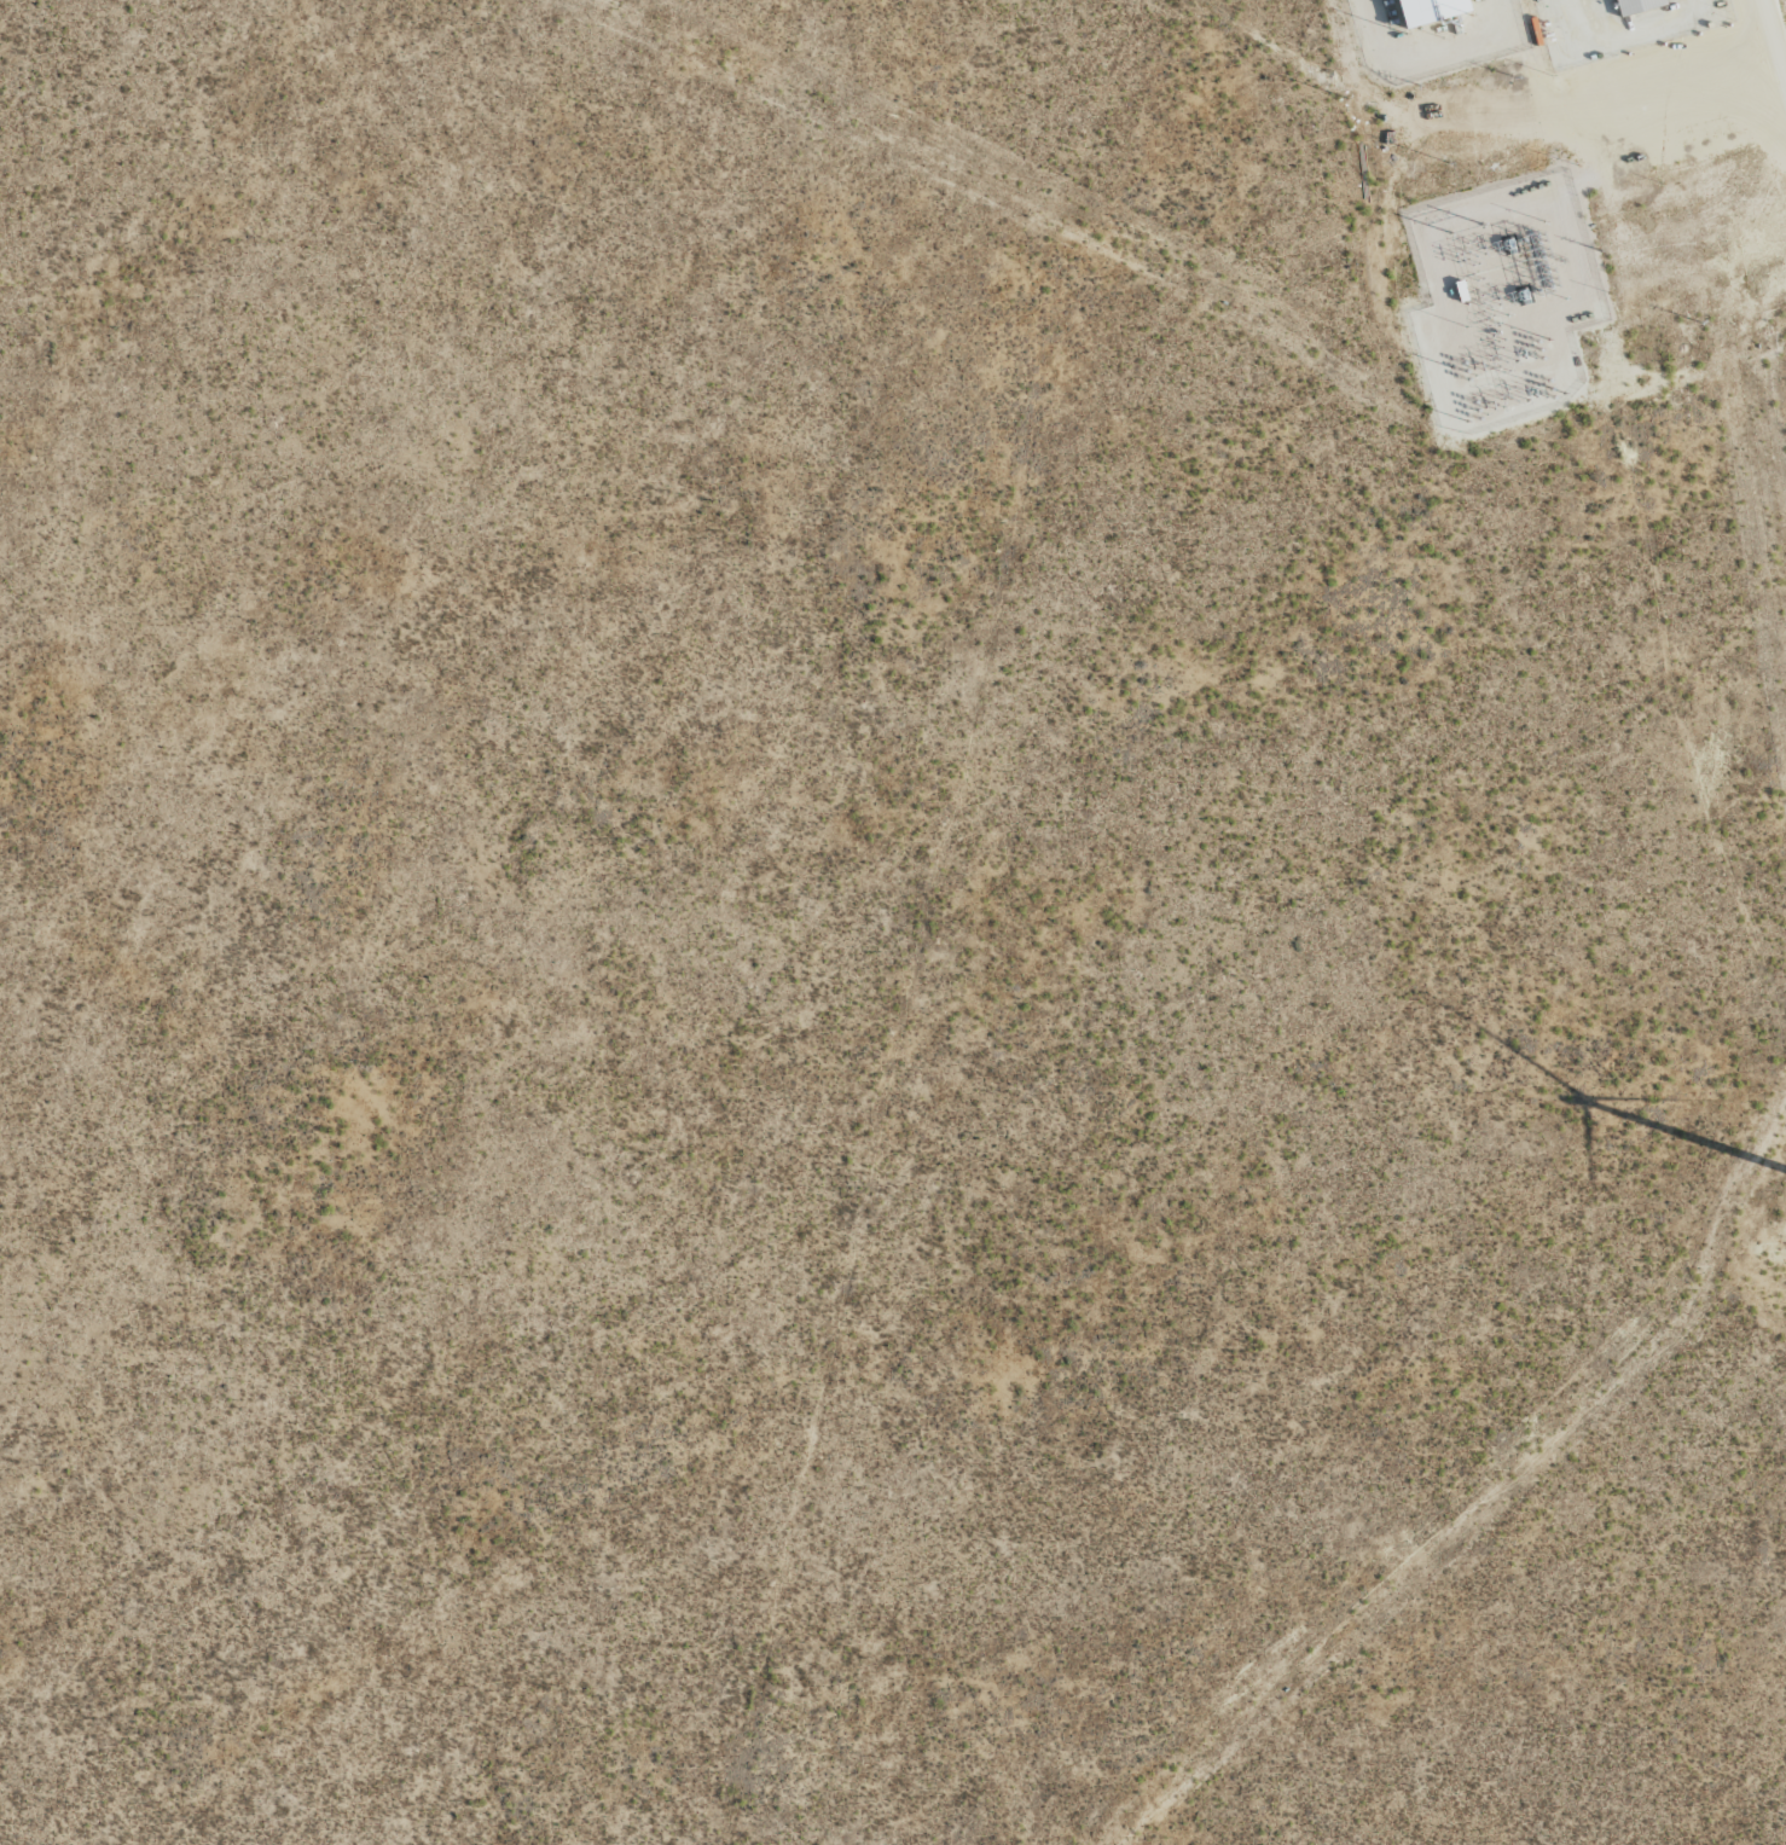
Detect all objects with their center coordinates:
building: (1636, 5)
building: (1428, 10)
power tower: (1345, 97)
power tower: (1448, 163)
power tower: (1466, 227)
power substation: (1502, 301)

